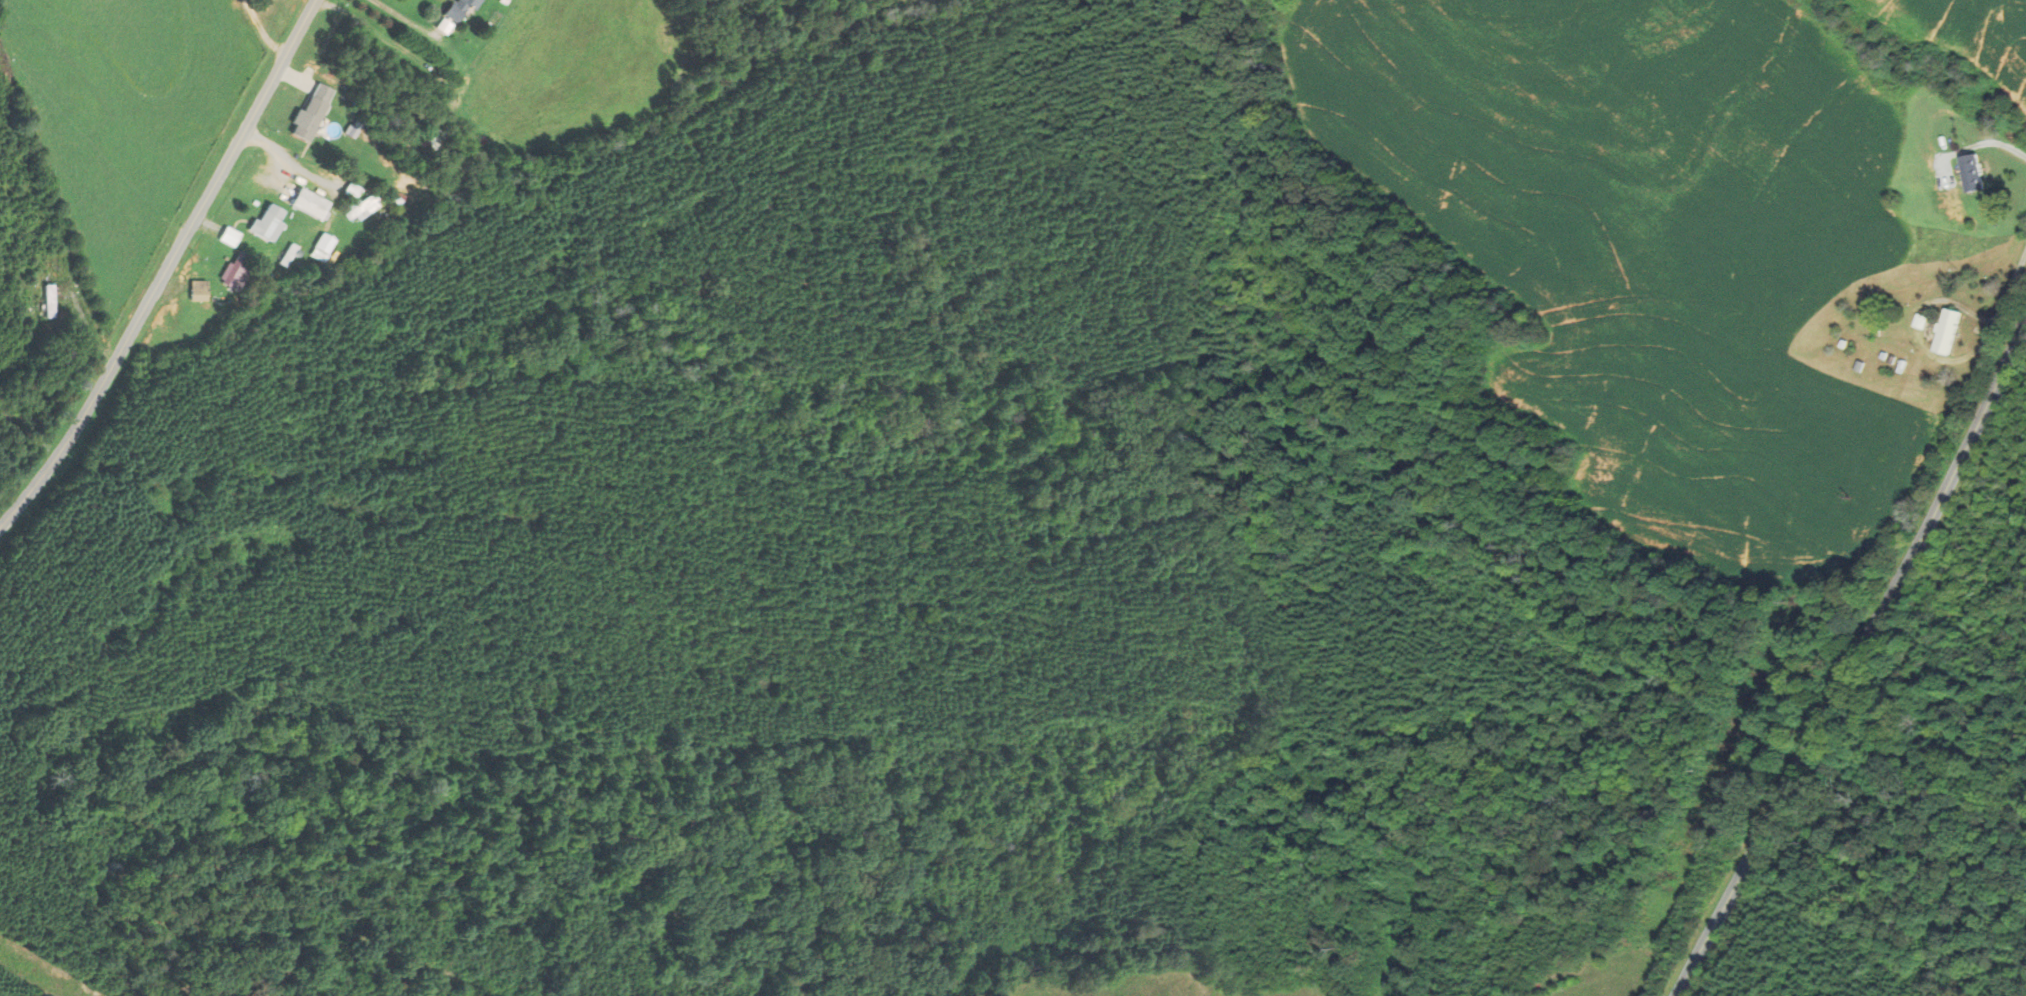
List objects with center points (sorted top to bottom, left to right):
building: (460, 10)
road: (1999, 145)
building: (1970, 173)
building: (307, 204)
building: (359, 208)
building: (264, 225)
building: (226, 237)
building: (319, 247)
road: (165, 268)
building: (233, 270)
building: (196, 290)
building: (47, 301)
building: (1950, 331)
road: (1856, 659)

